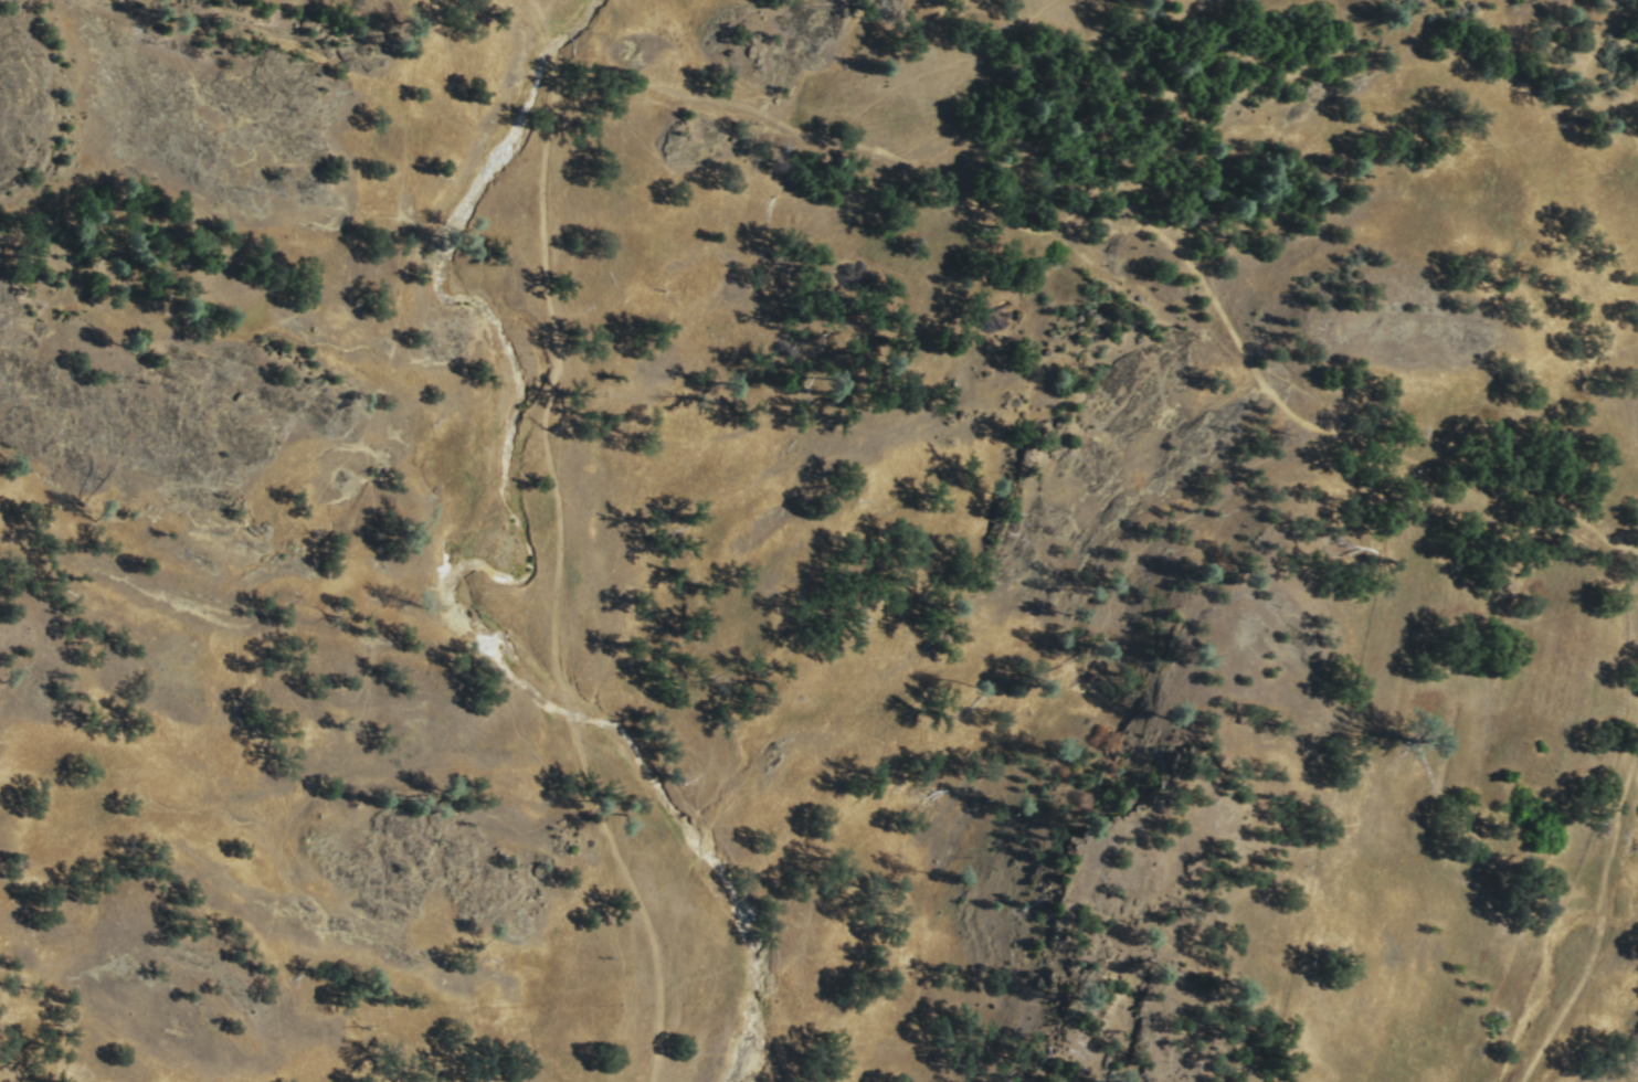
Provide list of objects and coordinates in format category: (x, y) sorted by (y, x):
road: (1135, 211)
road: (557, 547)
road: (1600, 919)

